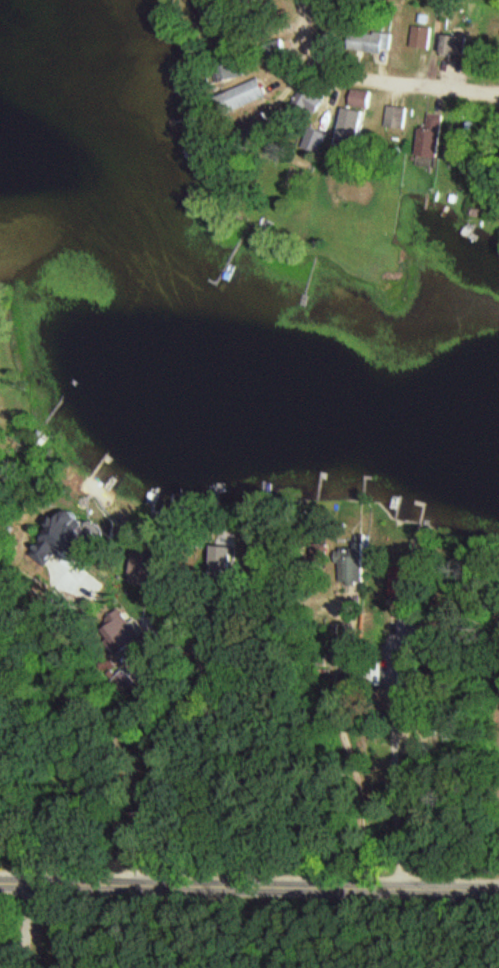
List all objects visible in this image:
building: (201, 10)
building: (422, 38)
building: (456, 46)
road: (395, 82)
building: (252, 93)
building: (363, 98)
building: (398, 117)
building: (353, 127)
building: (431, 138)
building: (355, 564)
building: (410, 609)
building: (110, 635)
building: (406, 695)
road: (249, 880)

